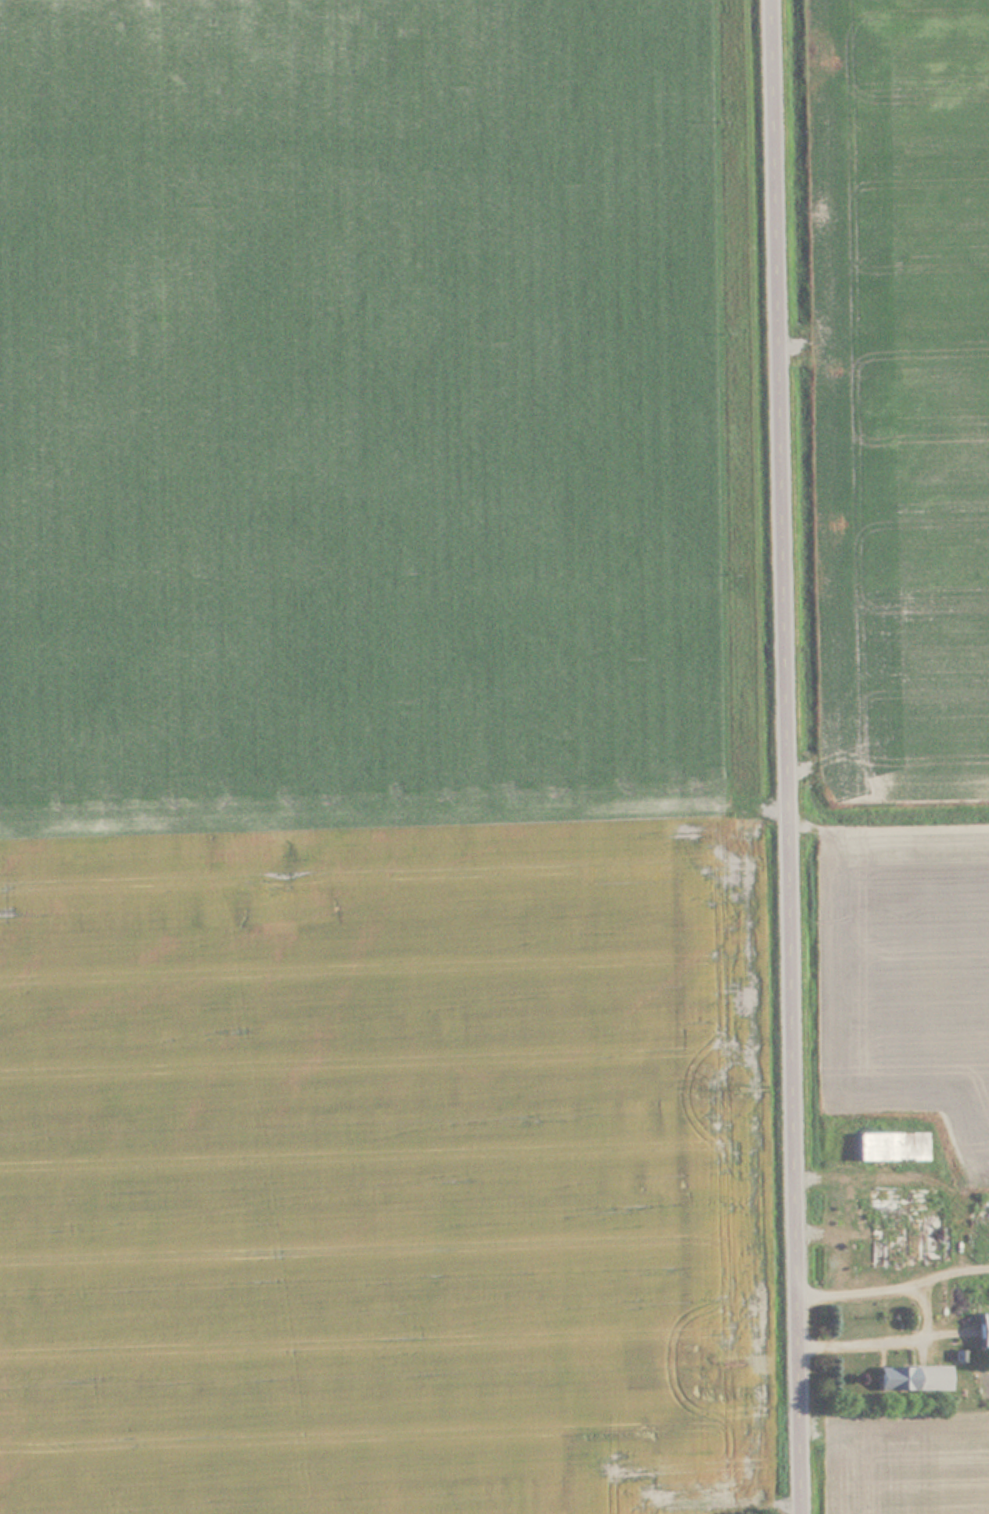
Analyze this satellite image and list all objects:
road: (792, 757)
building: (889, 1144)
building: (898, 1226)
building: (985, 1285)
building: (983, 1329)
building: (913, 1377)

